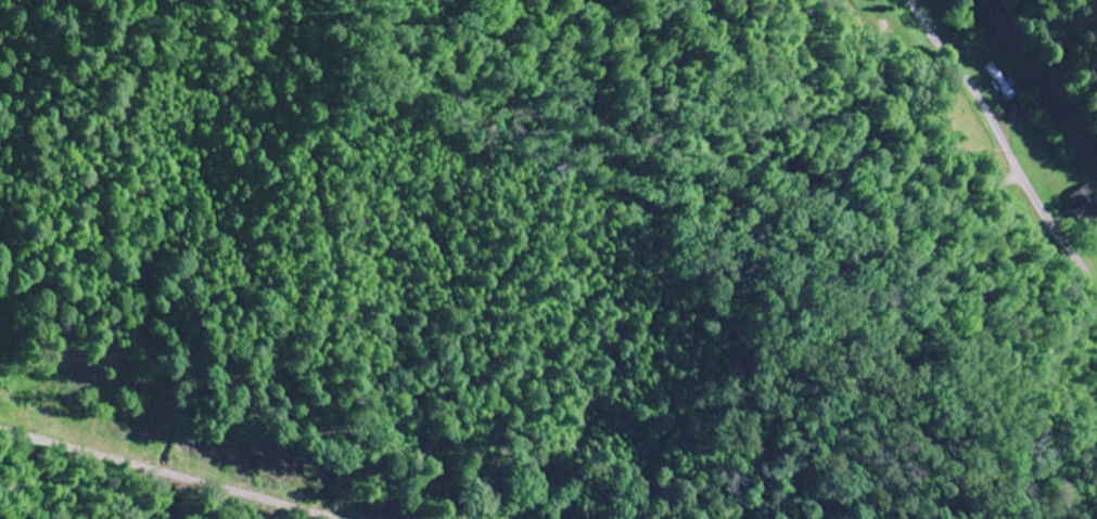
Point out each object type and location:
road: (1019, 134)
road: (345, 518)

